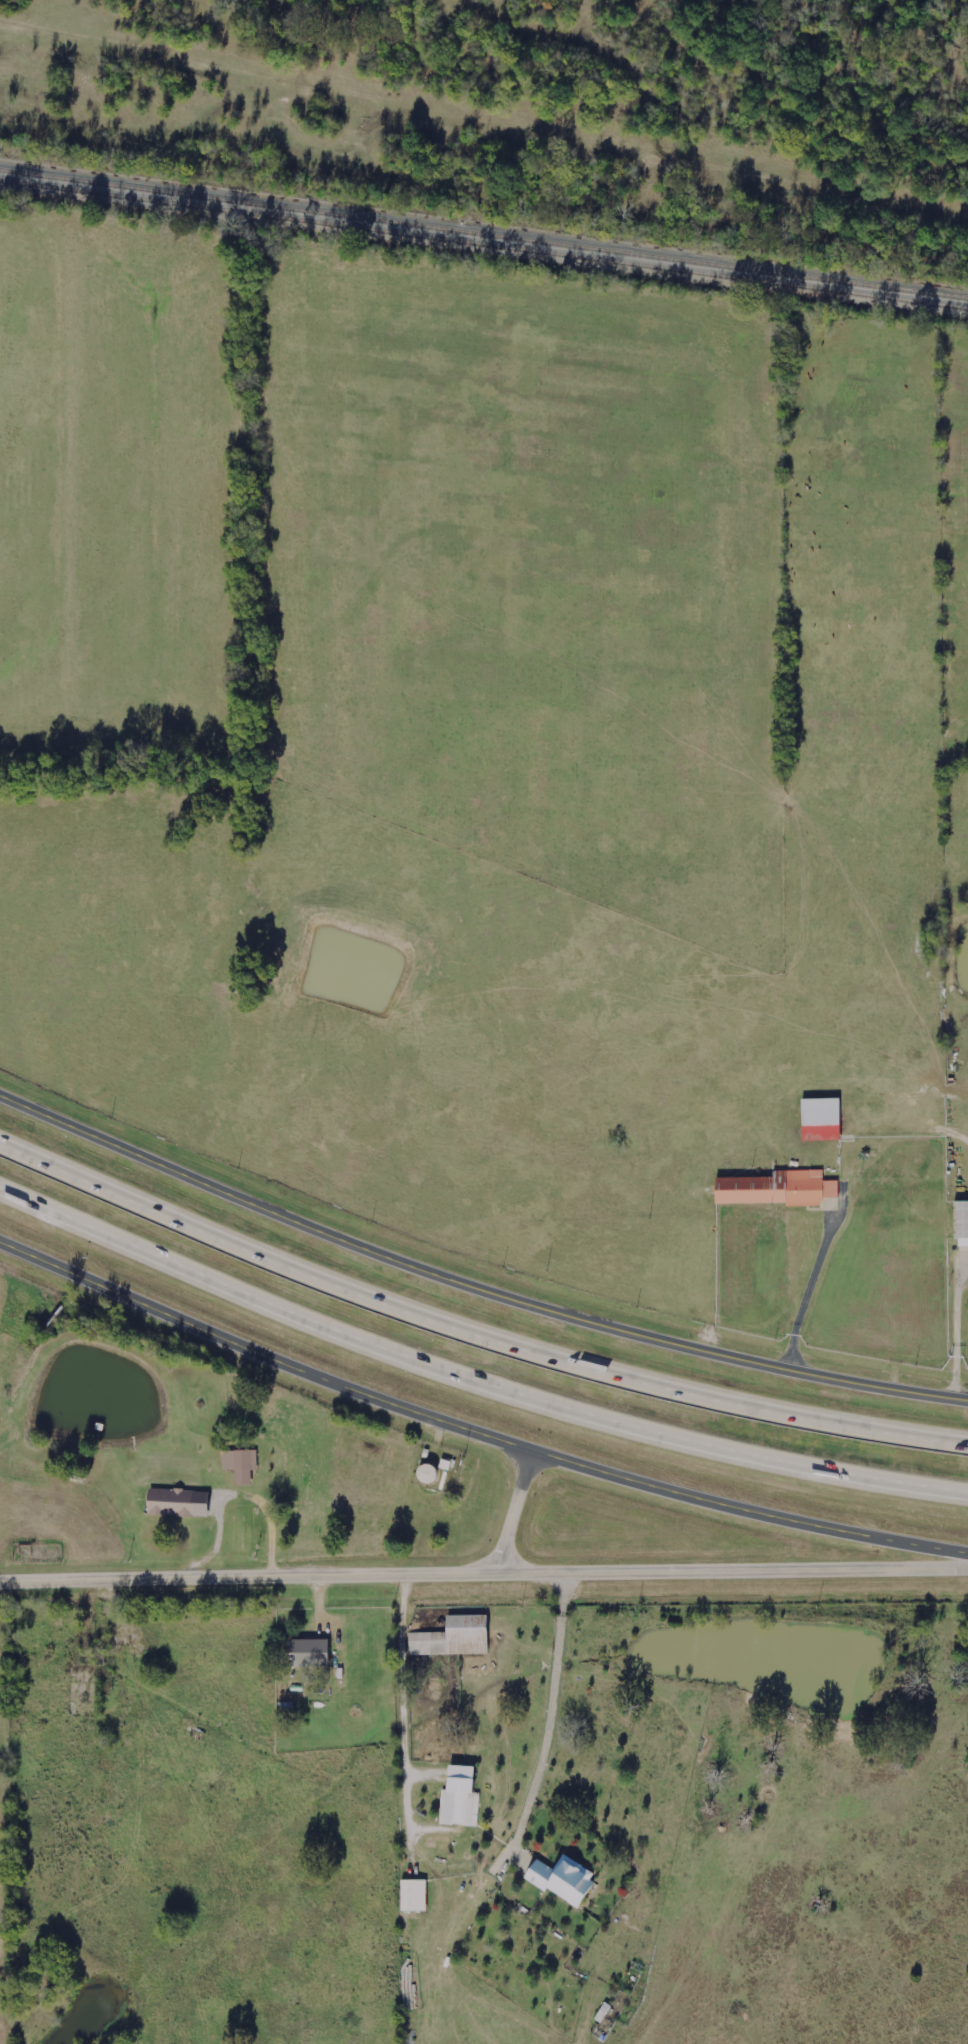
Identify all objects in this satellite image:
railway: (483, 237)
railway: (484, 247)
building: (818, 1120)
building: (775, 1190)
building: (959, 1220)
road: (472, 1285)
road: (813, 1290)
road: (471, 1322)
road: (963, 1331)
road: (470, 1375)
road: (472, 1433)
building: (240, 1465)
building: (175, 1504)
road: (514, 1514)
road: (484, 1575)
building: (451, 1638)
building: (306, 1655)
building: (457, 1799)
building: (561, 1882)
building: (411, 1897)

